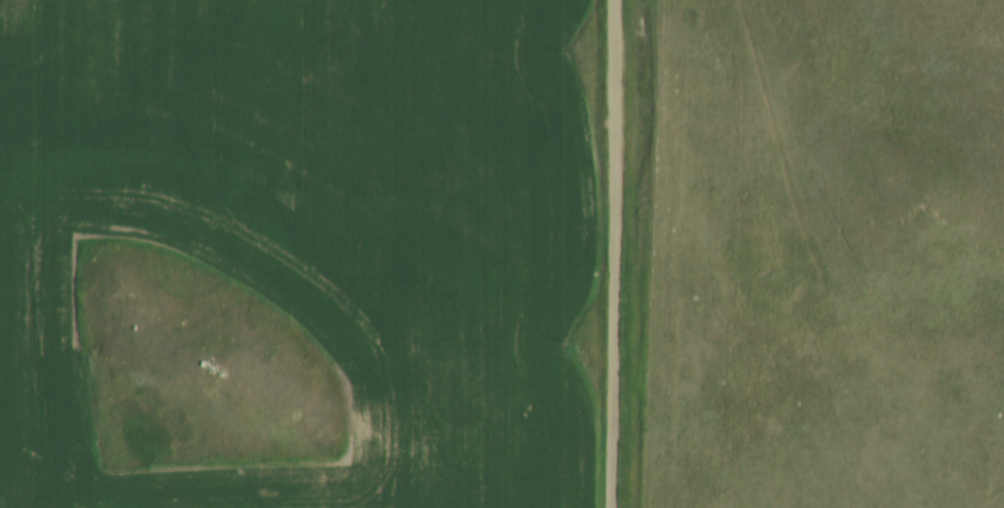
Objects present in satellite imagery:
road: (614, 254)

